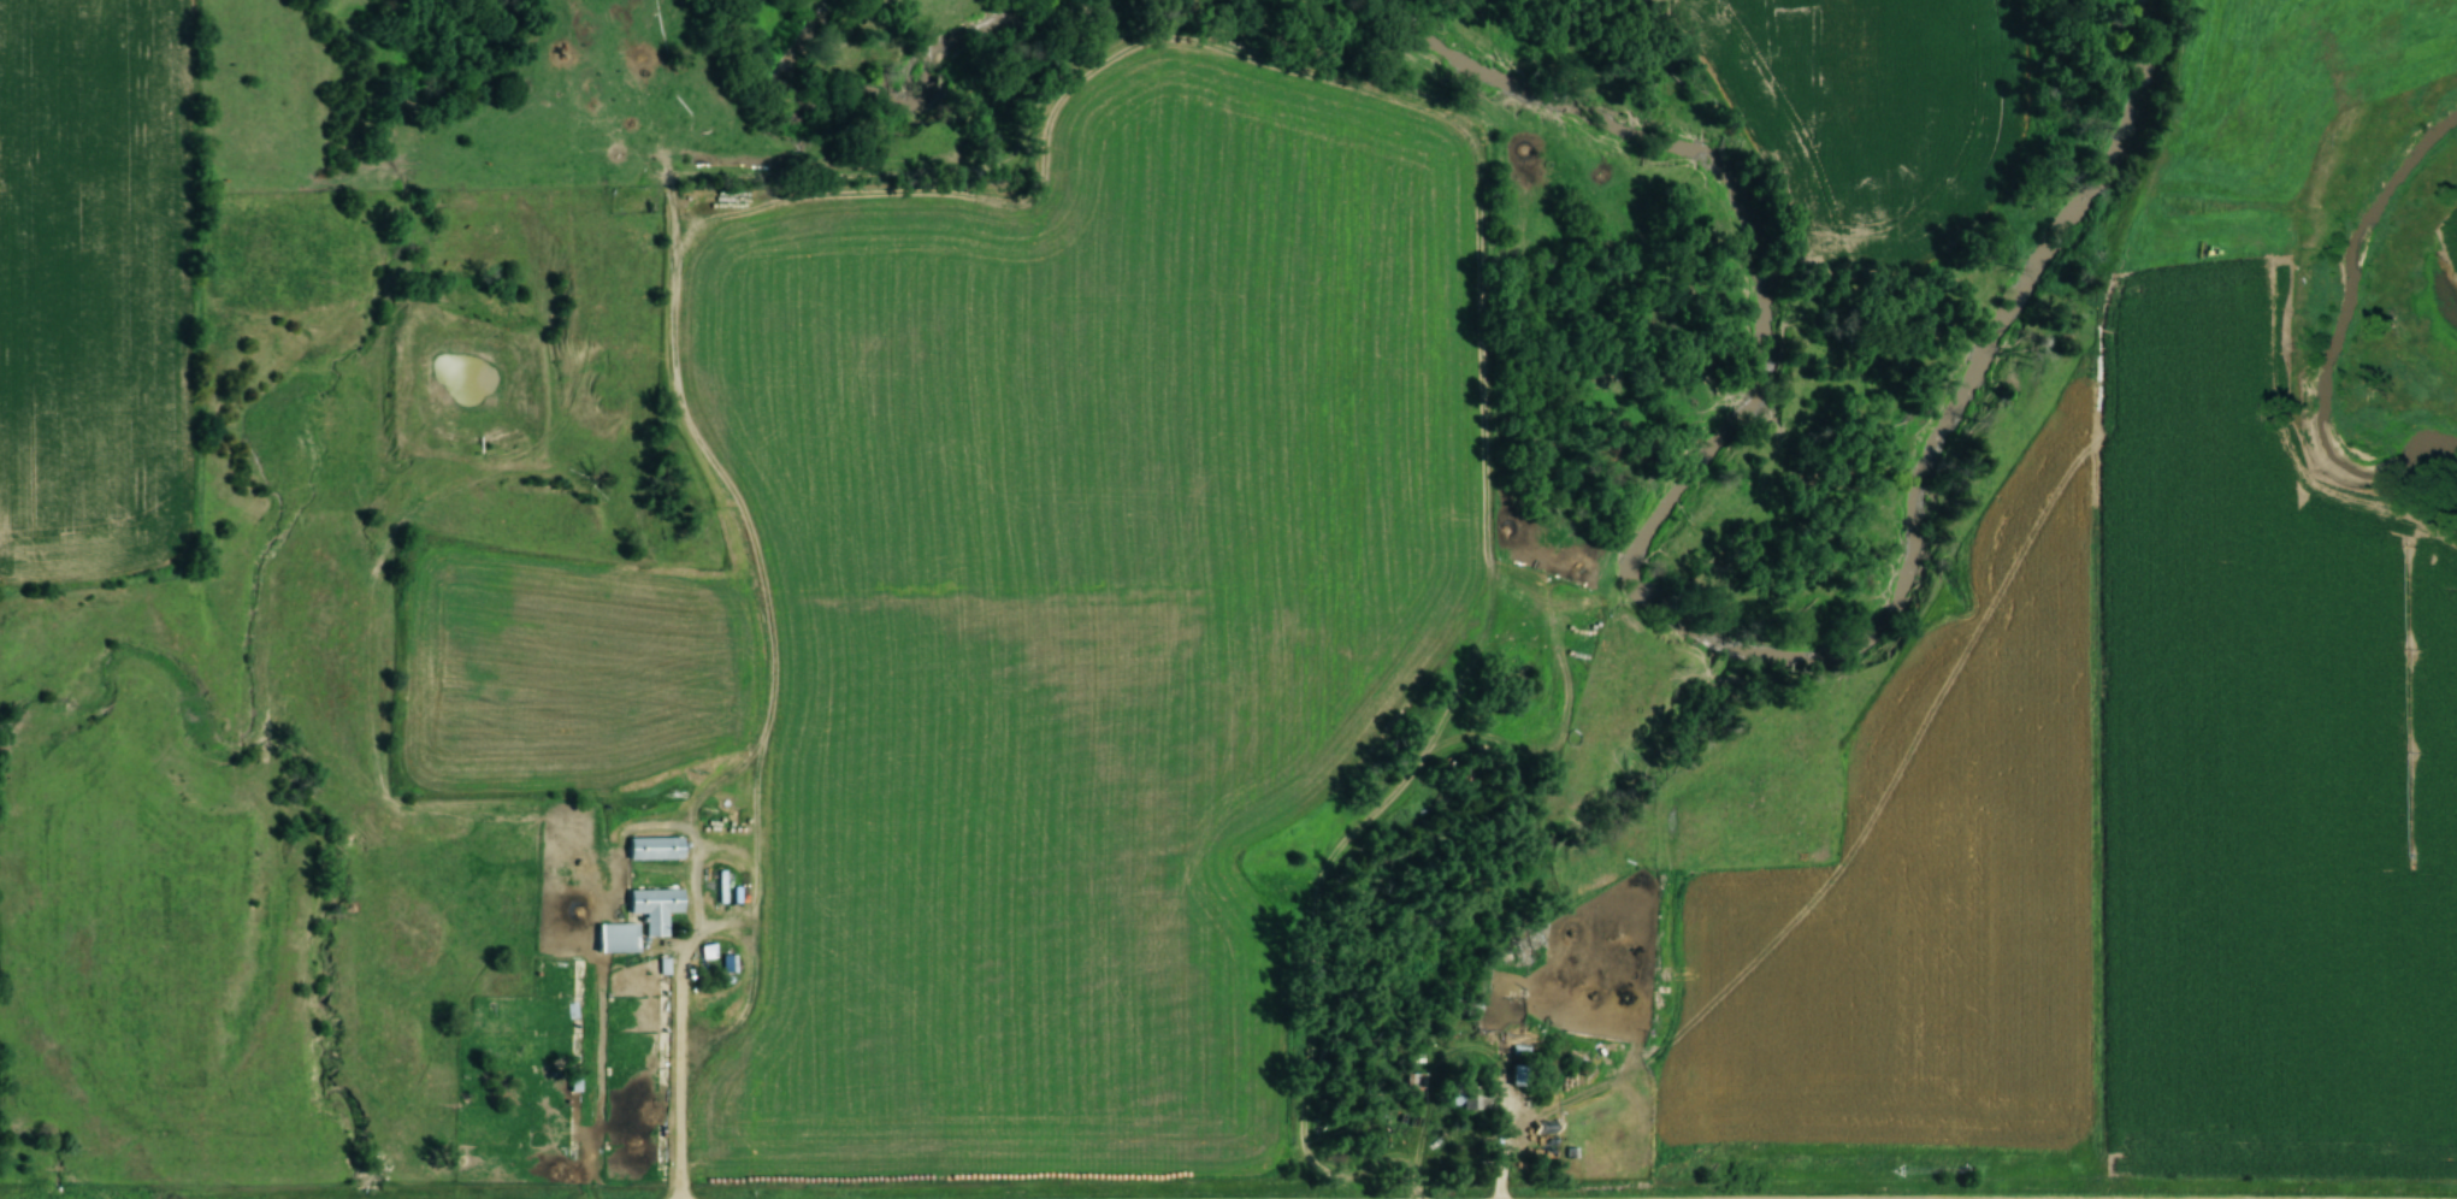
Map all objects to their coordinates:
building: (655, 850)
building: (655, 909)
building: (619, 939)
road: (675, 1065)

